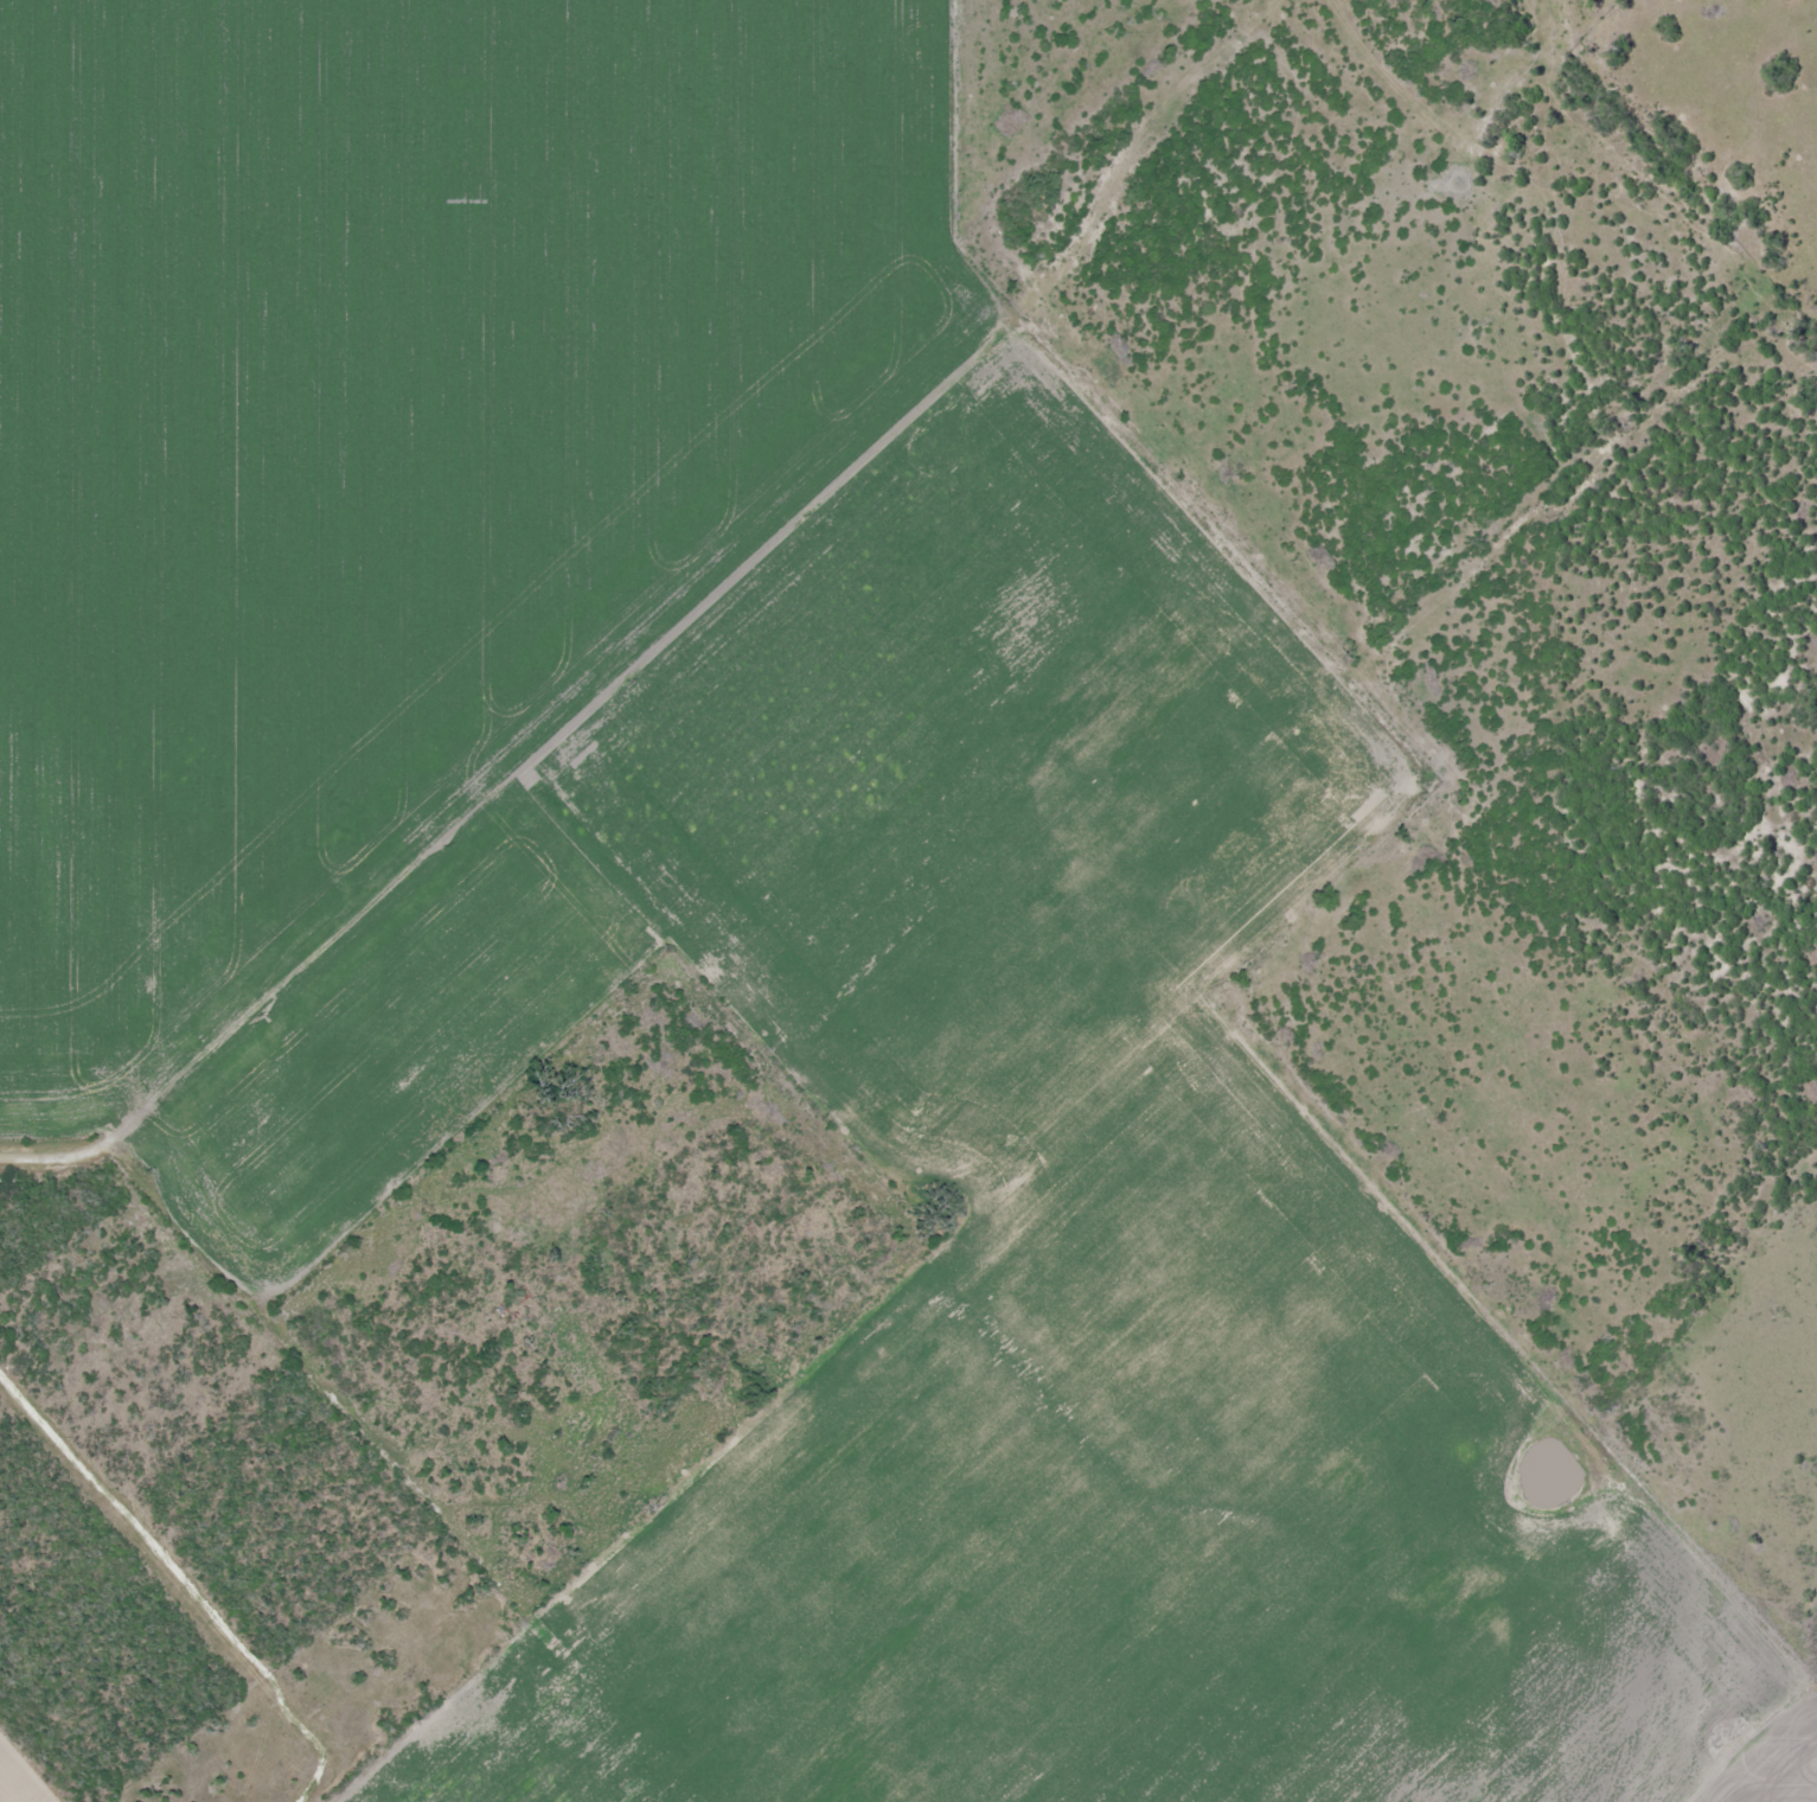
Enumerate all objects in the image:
road: (40, 1157)

